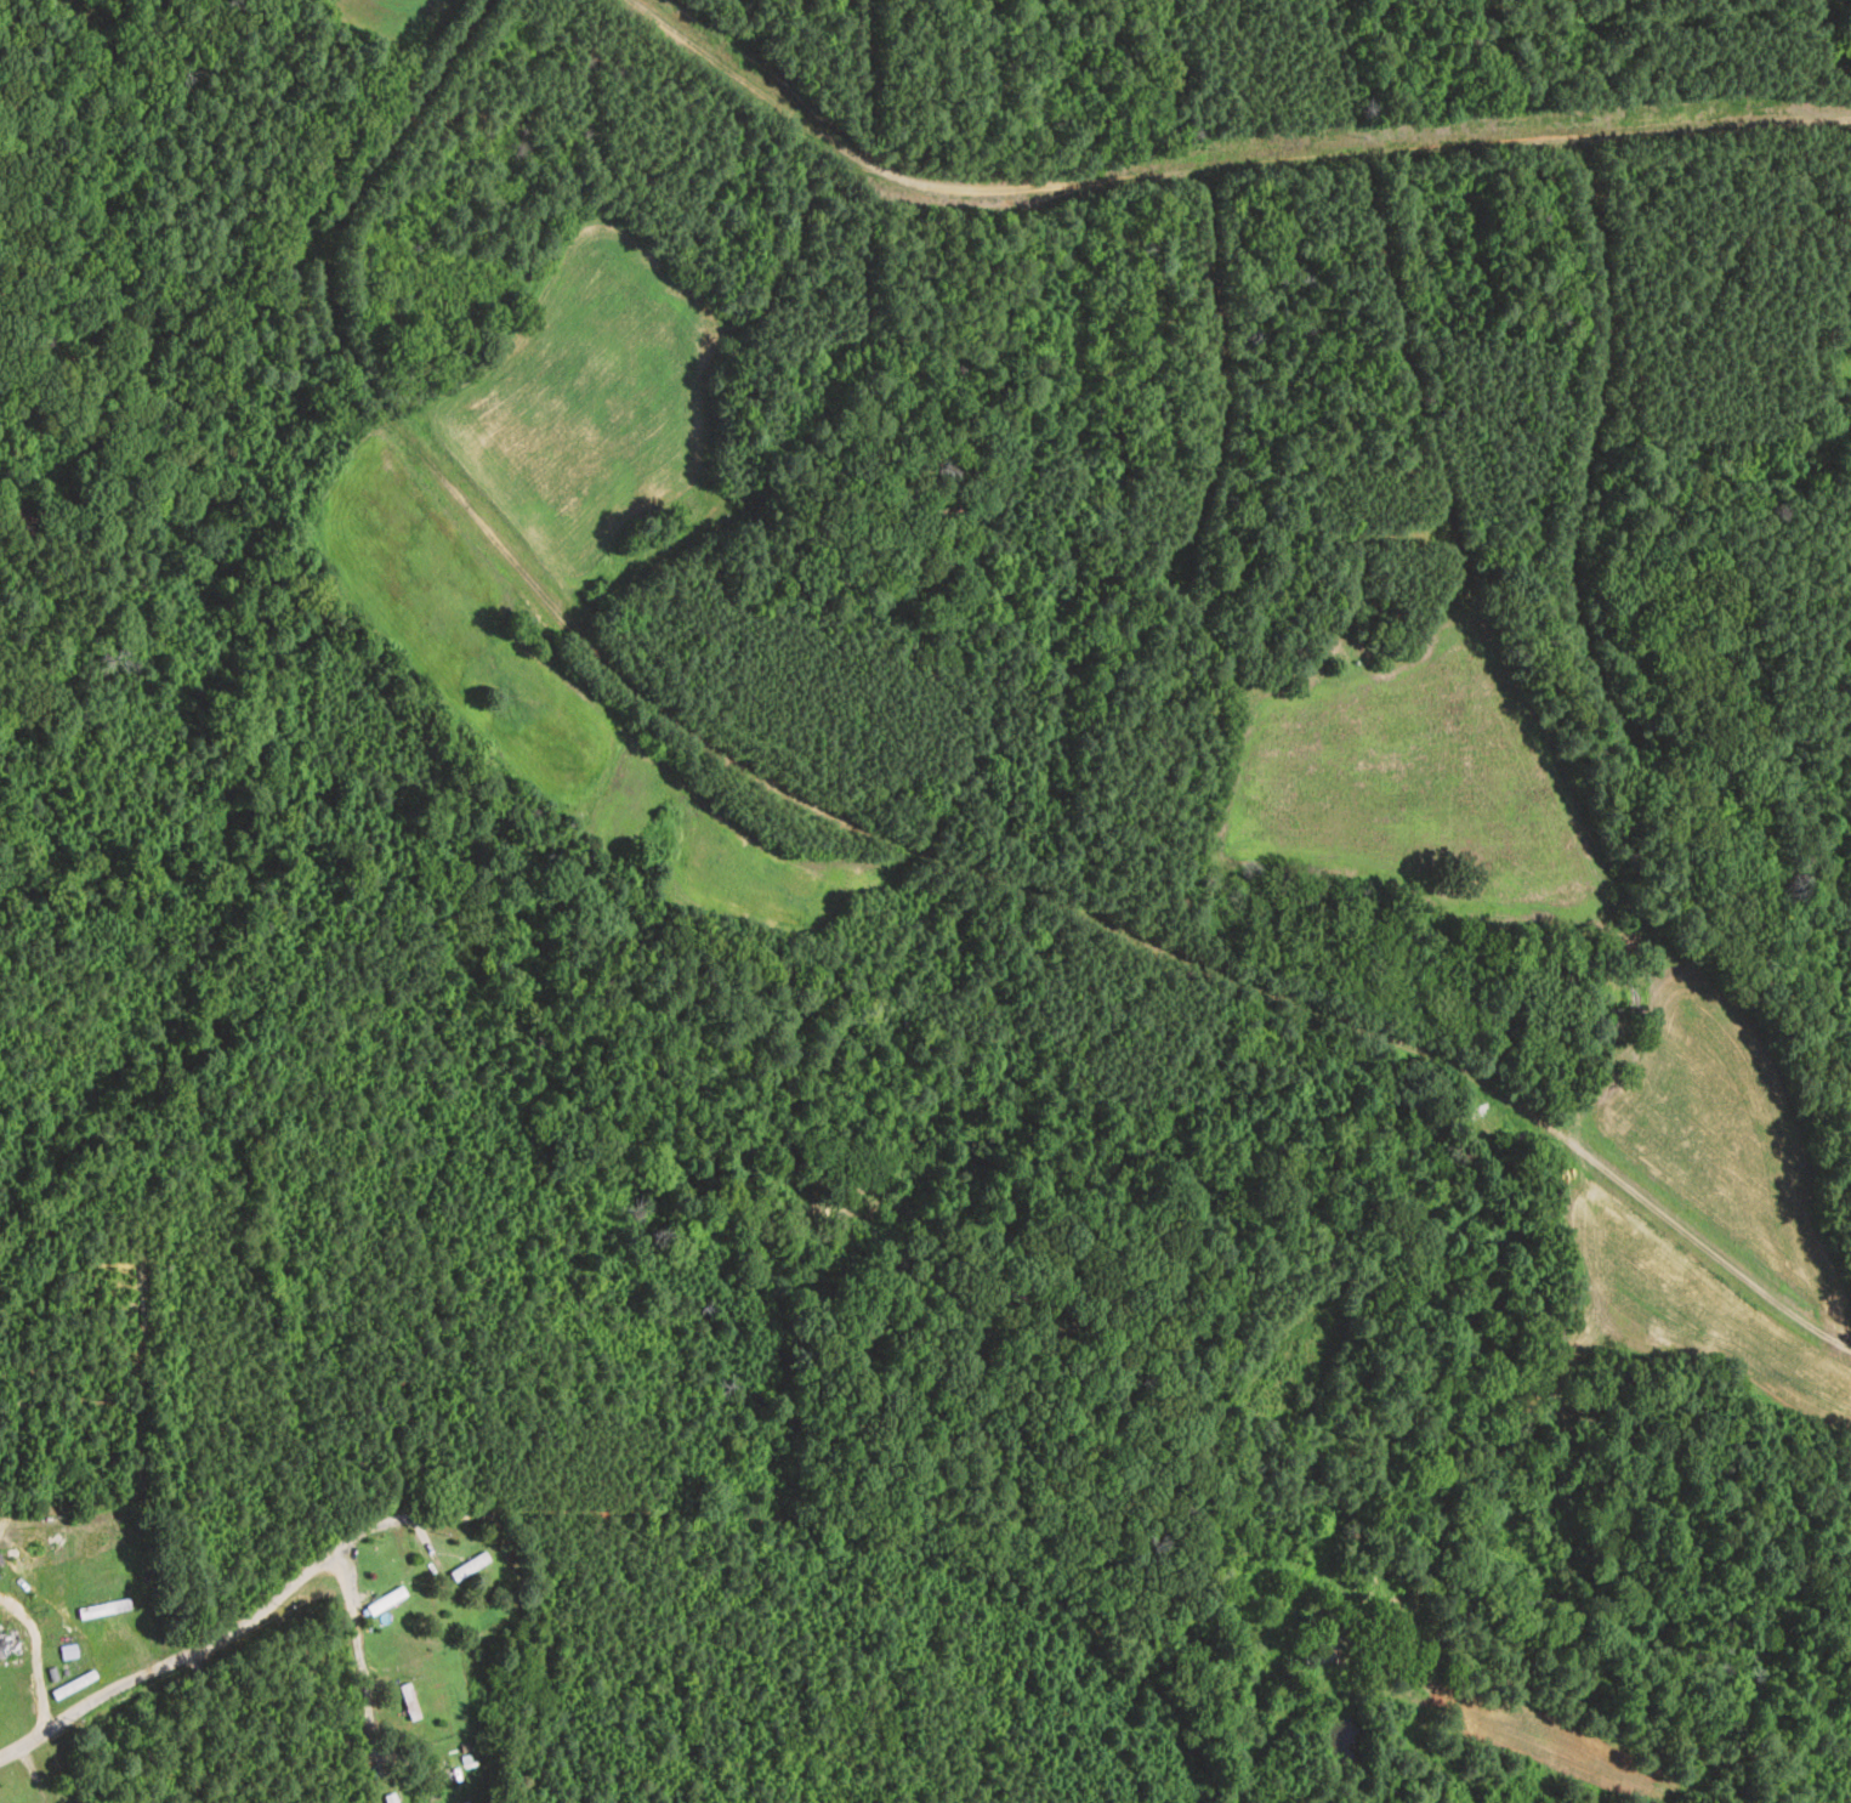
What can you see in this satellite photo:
road: (1211, 172)
road: (868, 827)
road: (795, 1524)
building: (470, 1567)
building: (387, 1601)
building: (126, 1603)
building: (8, 1645)
road: (360, 1649)
building: (1325, 1651)
building: (409, 1701)
road: (1231, 1747)
building: (391, 1798)

